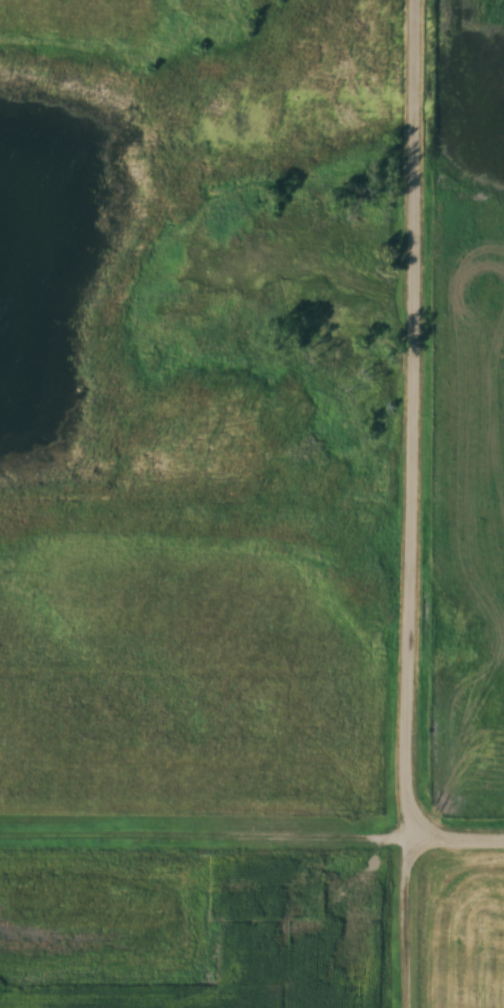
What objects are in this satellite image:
road: (413, 503)
road: (252, 843)

